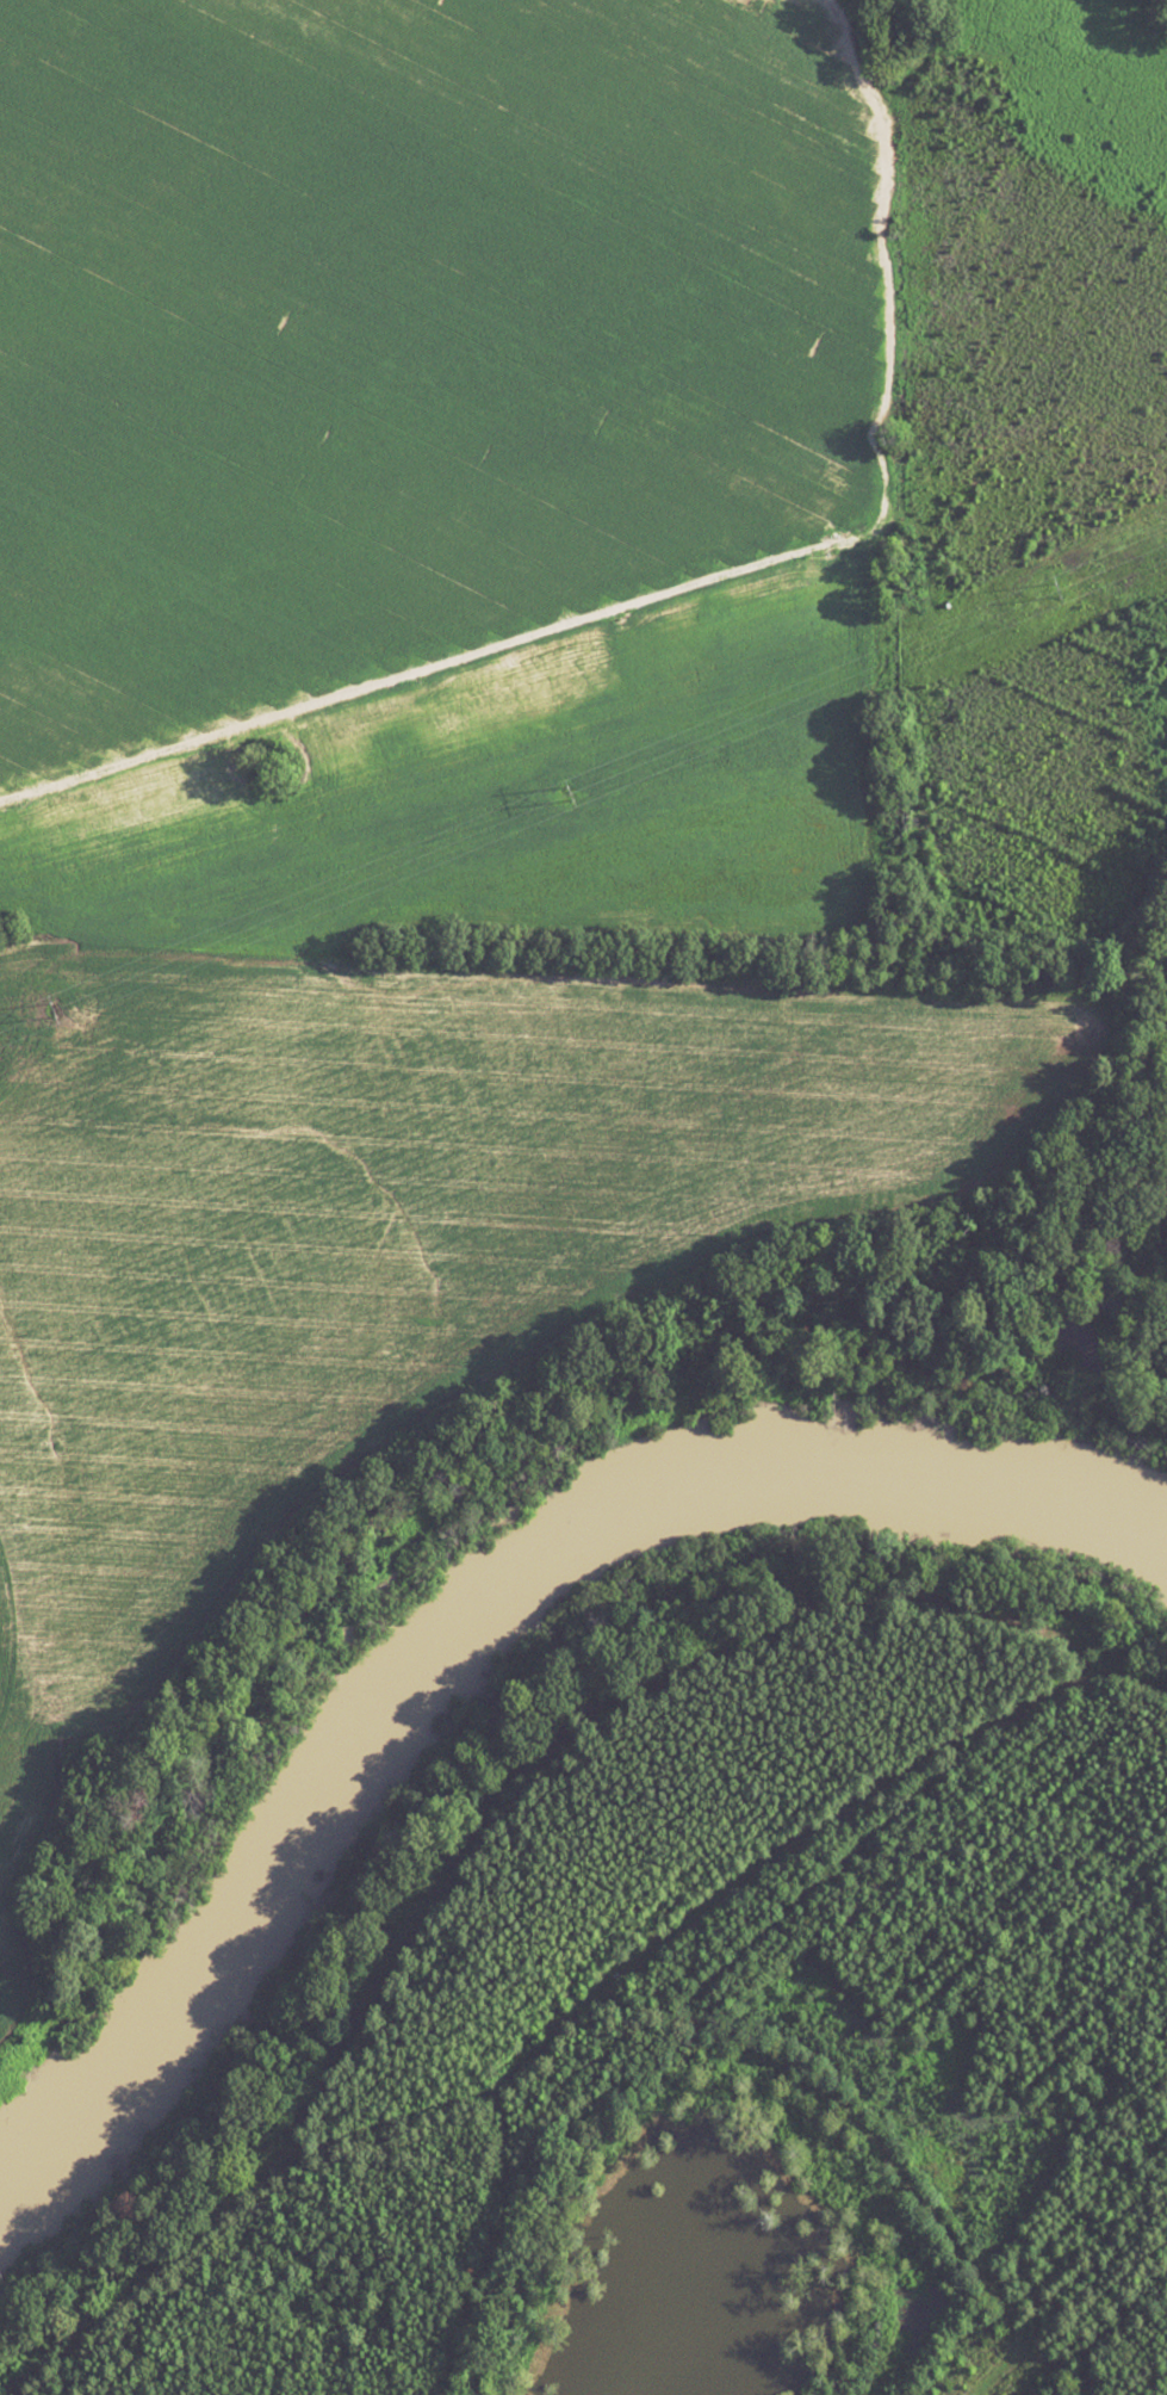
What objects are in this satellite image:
power tower: (1055, 590)
power tower: (570, 794)
road: (38, 955)
power tower: (54, 1010)
river: (466, 1611)
road: (365, 2129)

